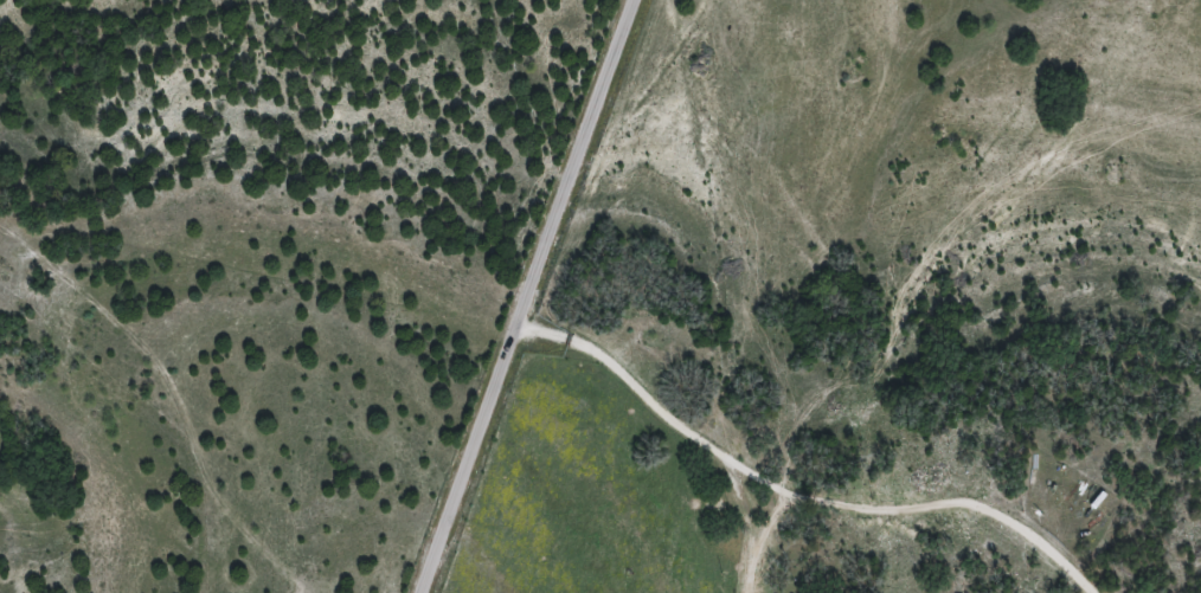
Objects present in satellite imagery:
road: (571, 296)
building: (713, 505)

